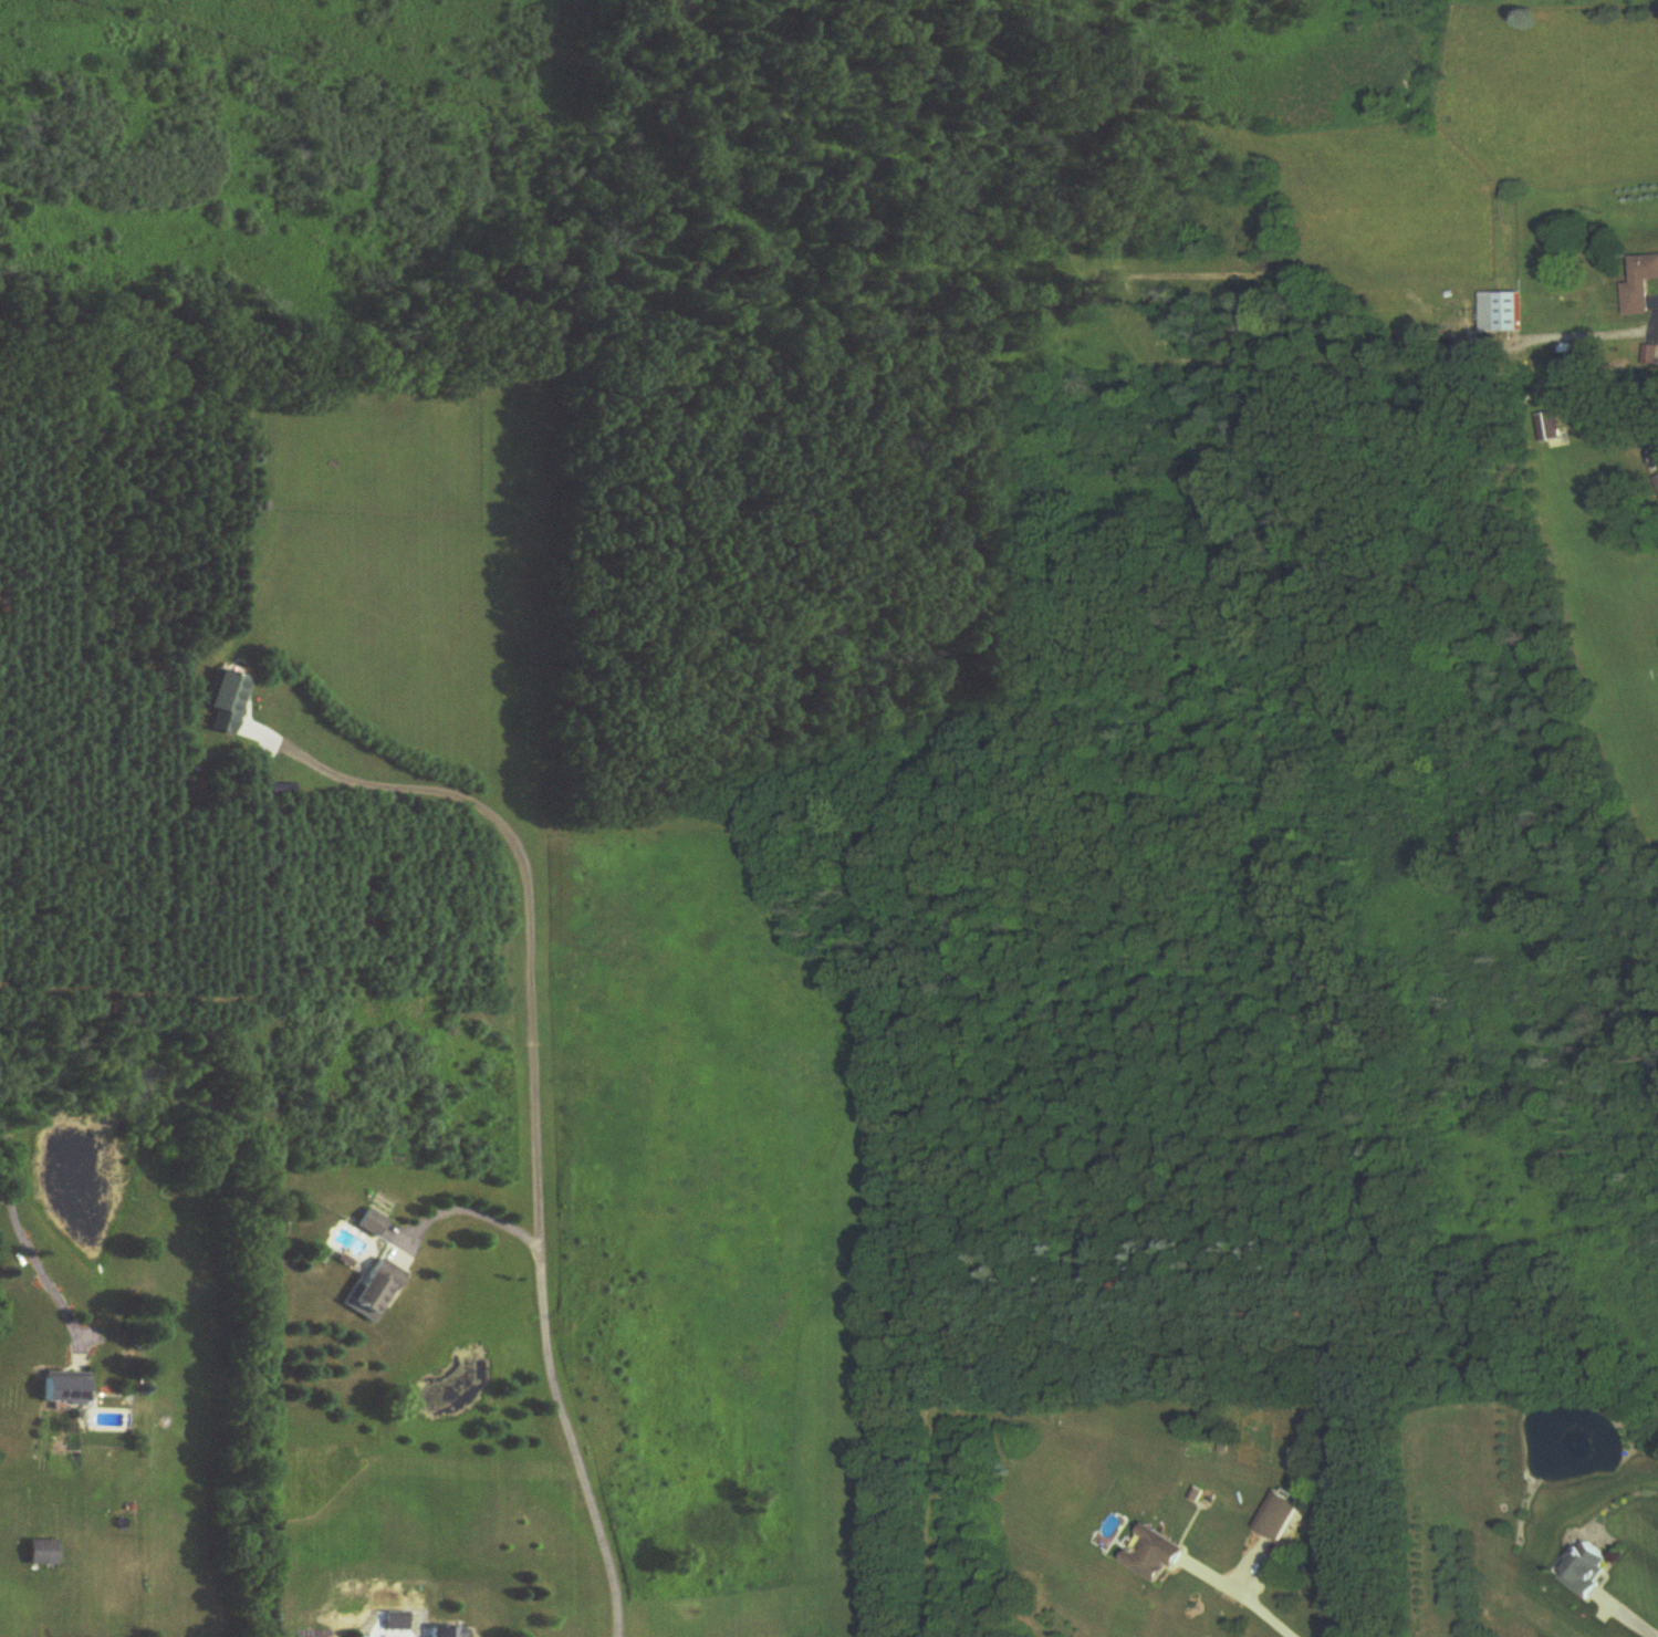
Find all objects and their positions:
building: (1640, 286)
building: (1500, 313)
building: (164, 366)
building: (1657, 451)
building: (1656, 483)
building: (228, 702)
road: (535, 1103)
road: (471, 1207)
building: (371, 1224)
road: (19, 1233)
building: (374, 1291)
building: (64, 1389)
building: (1279, 1516)
building: (41, 1553)
building: (1156, 1555)
building: (1588, 1572)
road: (1248, 1602)
road: (1629, 1618)
building: (447, 1633)

